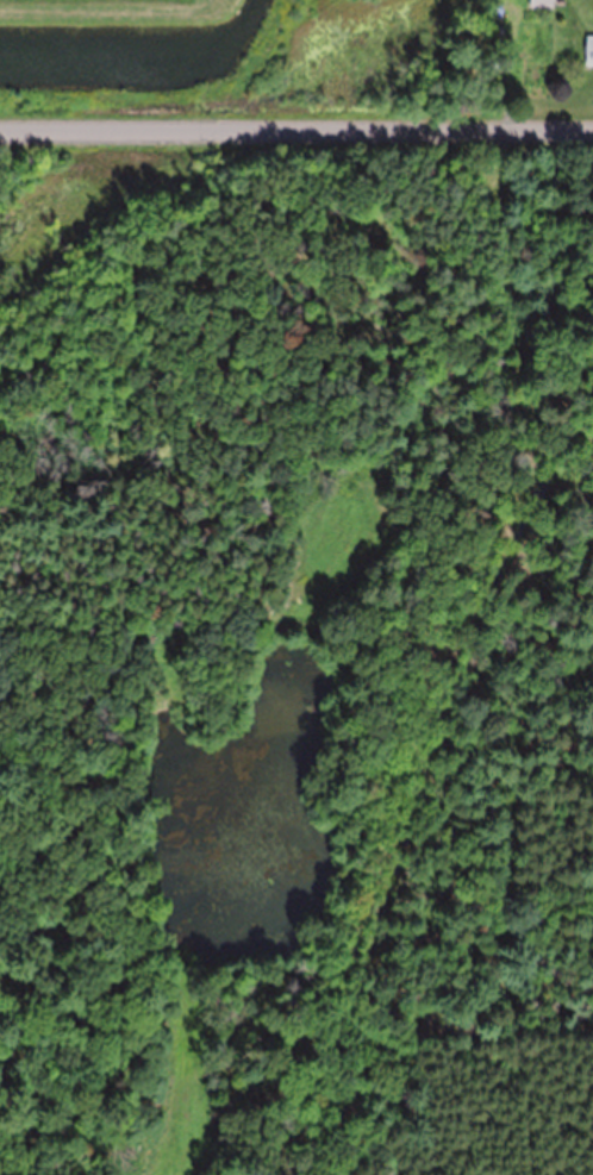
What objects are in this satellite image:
crop: (105, 4)
building: (538, 4)
building: (589, 49)
road: (296, 132)
road: (389, 532)

